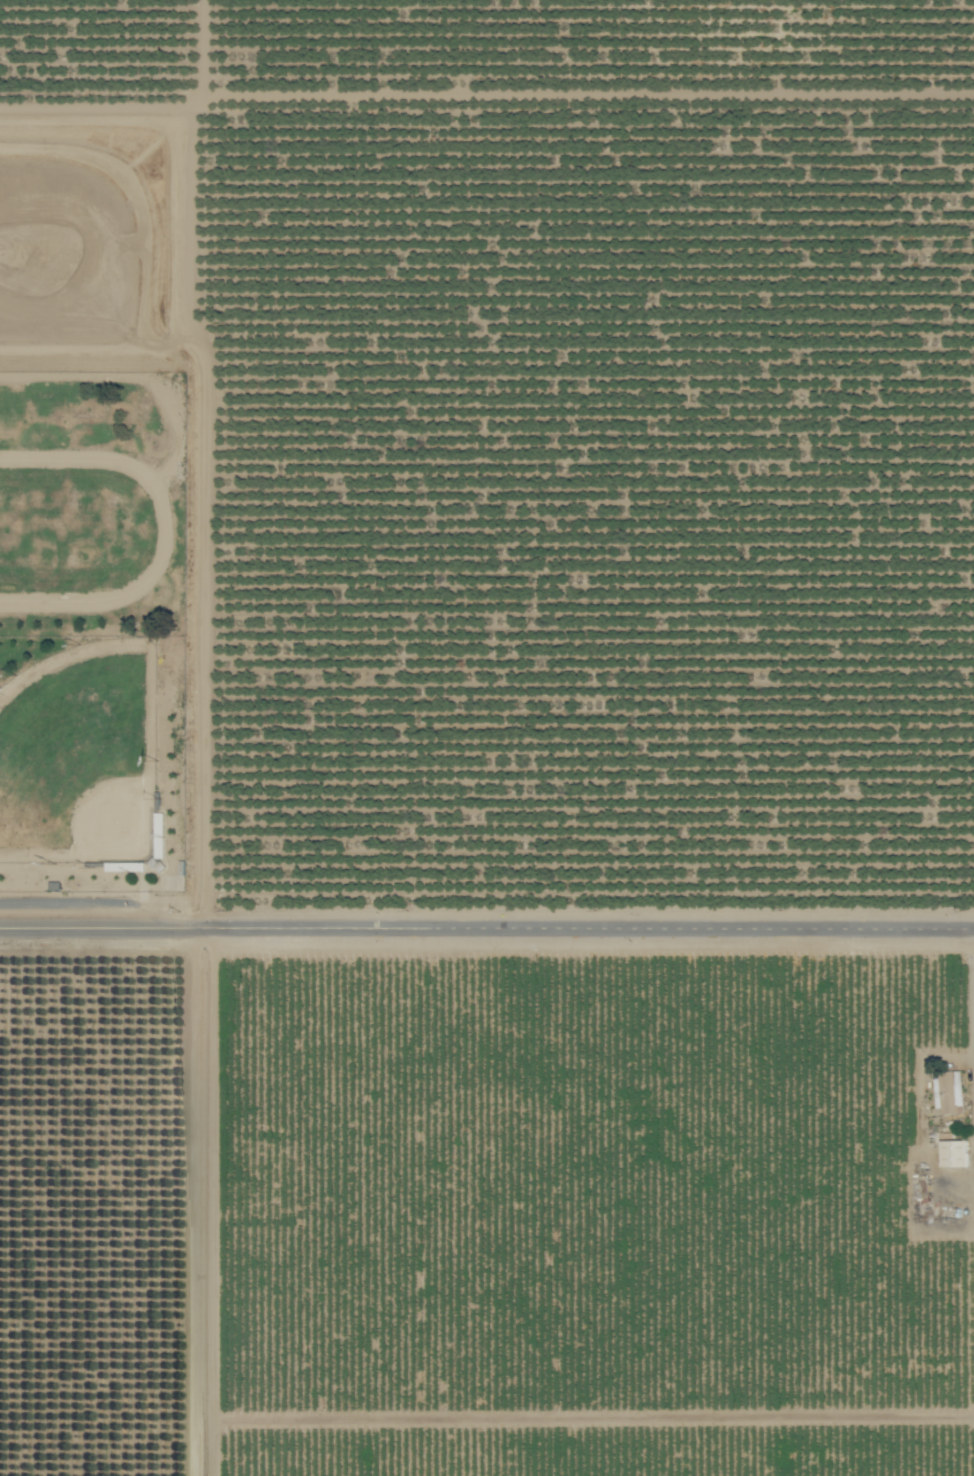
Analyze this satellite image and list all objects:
crop: (548, 776)
building: (162, 834)
building: (126, 866)
road: (487, 924)
building: (951, 1092)
building: (956, 1153)
building: (926, 1190)
road: (205, 1201)

